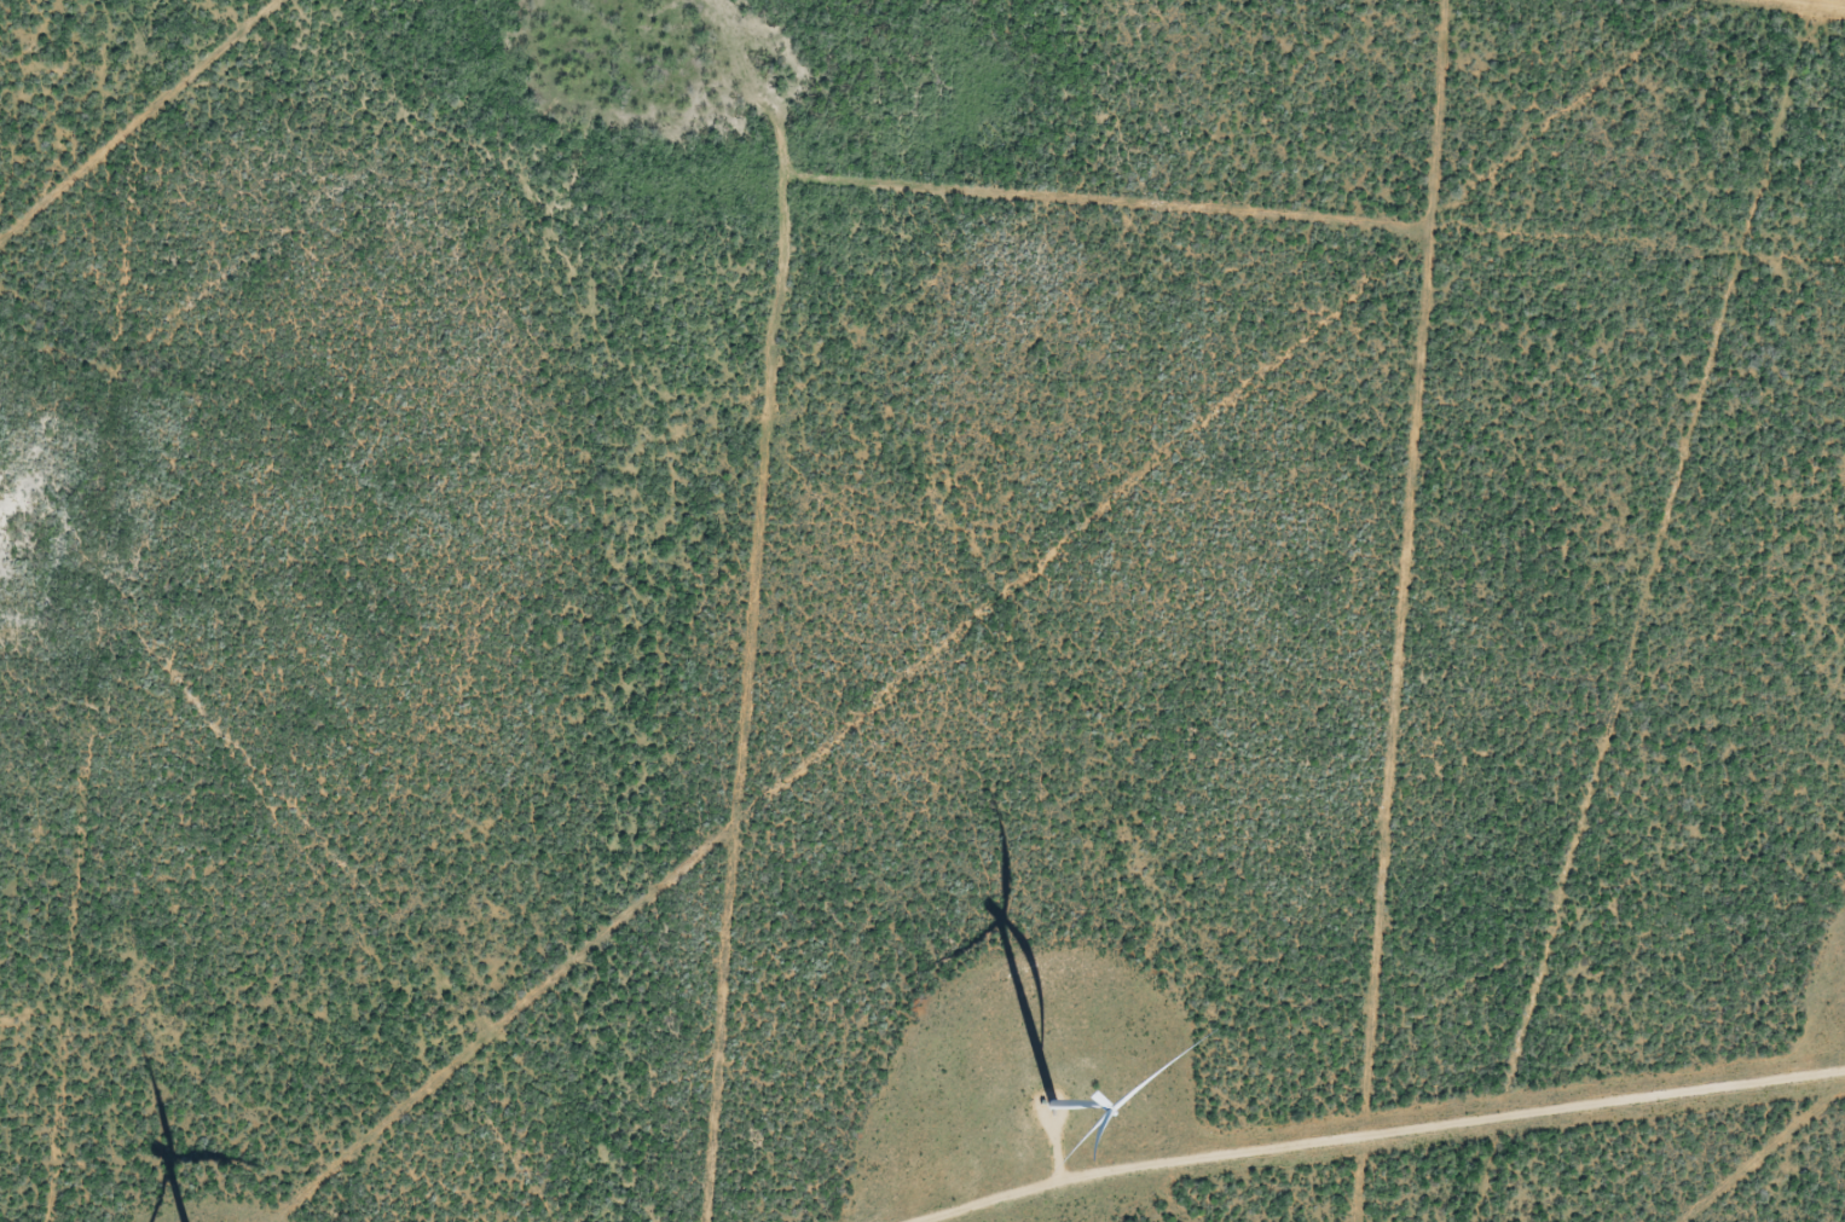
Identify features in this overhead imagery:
road: (1675, 610)
road: (5, 769)
wind turbine: (1033, 1125)

